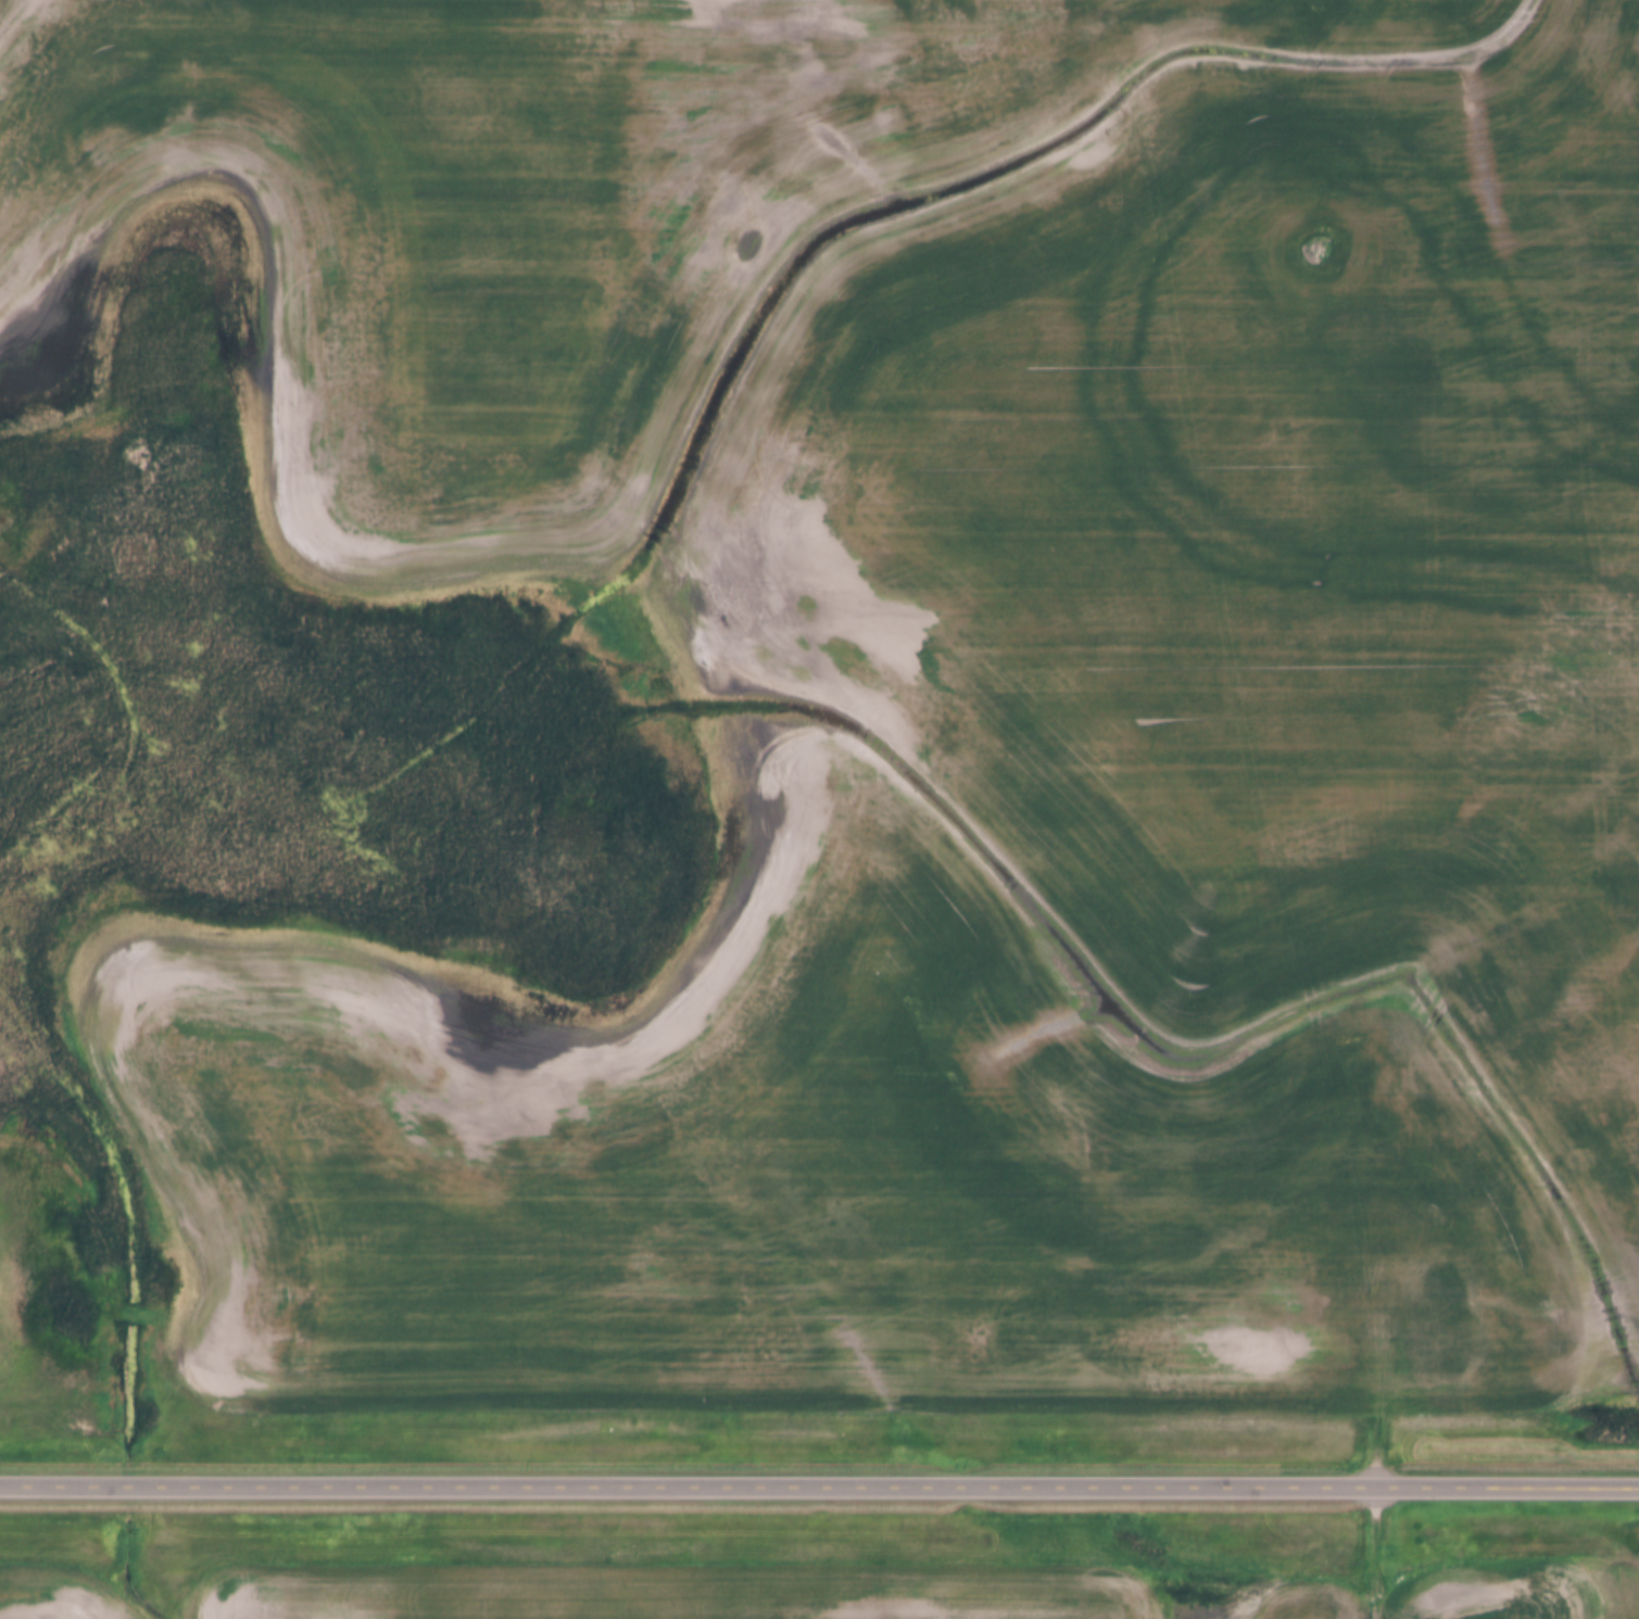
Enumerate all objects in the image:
road: (819, 1484)

